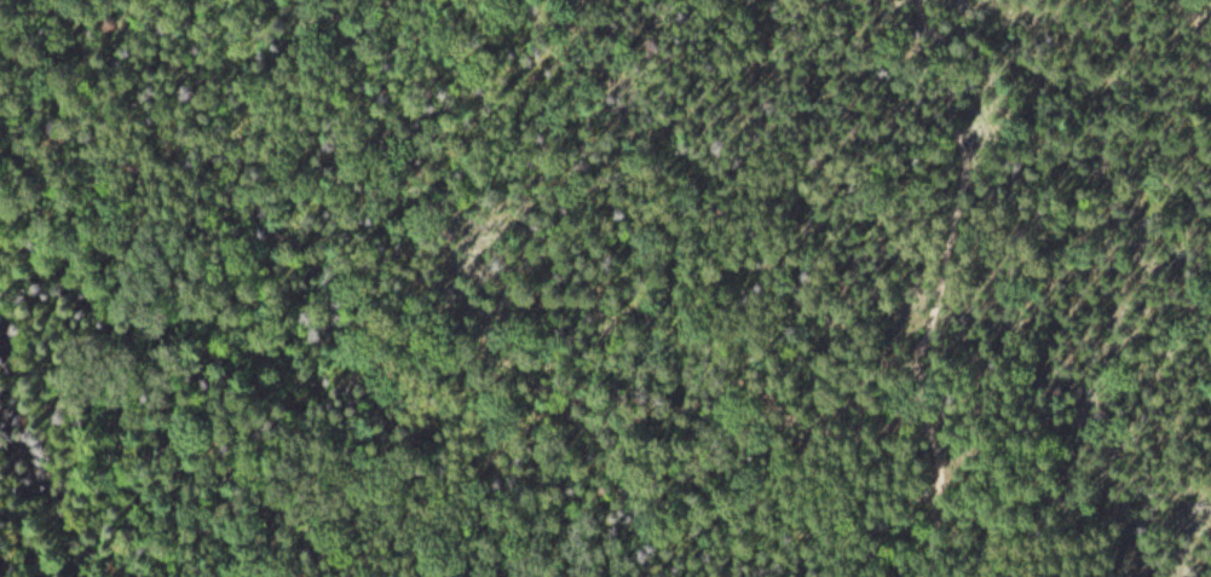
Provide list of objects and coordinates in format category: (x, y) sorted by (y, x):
road: (934, 283)

